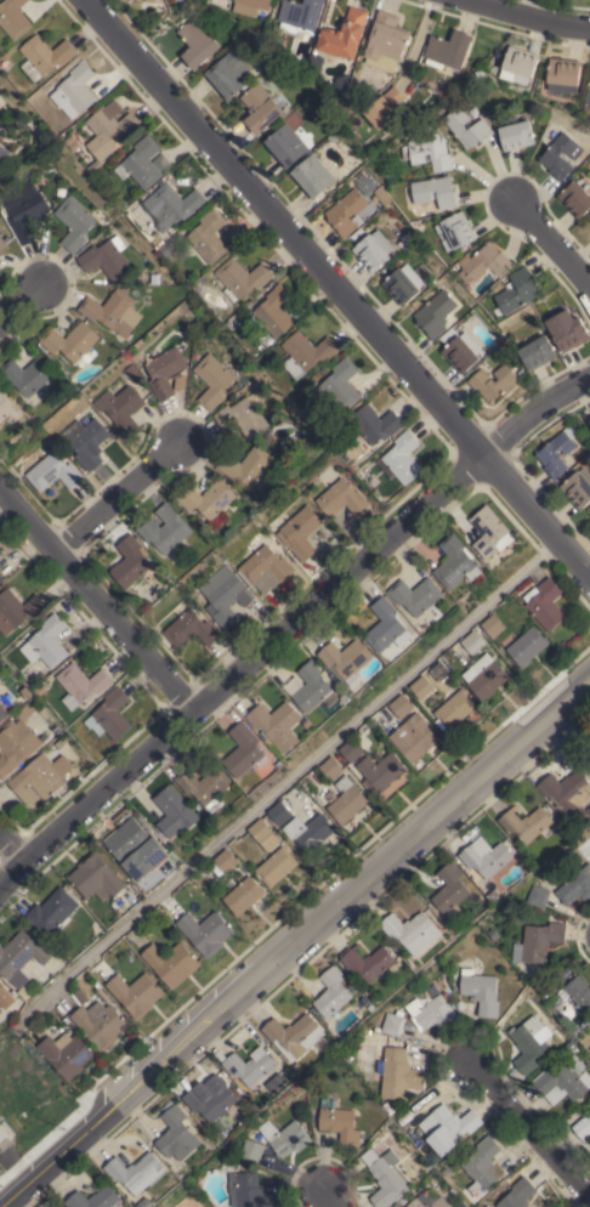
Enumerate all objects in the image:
building: (124, 0)
building: (147, 0)
building: (151, 1)
building: (254, 7)
building: (305, 17)
road: (526, 17)
building: (13, 18)
building: (346, 36)
building: (197, 42)
building: (388, 42)
building: (450, 51)
building: (44, 56)
building: (317, 63)
building: (521, 66)
building: (478, 73)
building: (228, 74)
building: (566, 76)
building: (344, 81)
building: (75, 90)
building: (589, 100)
building: (385, 106)
building: (260, 108)
building: (480, 126)
building: (109, 130)
building: (516, 135)
building: (333, 137)
building: (75, 144)
building: (285, 144)
building: (36, 146)
building: (427, 149)
building: (2, 153)
building: (365, 153)
building: (560, 155)
building: (144, 161)
building: (312, 176)
building: (365, 185)
building: (59, 192)
building: (435, 192)
building: (7, 198)
building: (575, 198)
building: (172, 205)
building: (346, 212)
building: (25, 215)
building: (589, 217)
building: (74, 222)
building: (456, 233)
building: (209, 236)
building: (158, 240)
building: (2, 243)
road: (551, 246)
building: (373, 249)
building: (106, 257)
building: (484, 262)
building: (0, 267)
building: (240, 277)
building: (135, 278)
building: (403, 283)
road: (336, 290)
building: (516, 291)
road: (18, 304)
building: (113, 311)
building: (274, 311)
building: (435, 313)
building: (567, 330)
building: (70, 340)
building: (461, 351)
building: (537, 352)
building: (306, 353)
building: (164, 370)
building: (27, 374)
building: (212, 379)
building: (493, 381)
building: (341, 384)
building: (5, 404)
building: (120, 408)
building: (243, 415)
building: (273, 415)
building: (589, 418)
building: (375, 424)
building: (86, 442)
building: (556, 450)
building: (401, 458)
building: (246, 465)
building: (353, 465)
building: (51, 467)
building: (578, 487)
building: (339, 495)
road: (117, 498)
building: (208, 498)
building: (165, 528)
building: (299, 528)
building: (490, 532)
building: (0, 551)
building: (130, 561)
building: (455, 561)
building: (265, 568)
building: (164, 572)
building: (0, 578)
building: (416, 595)
building: (227, 599)
road: (97, 601)
building: (545, 603)
building: (19, 607)
building: (386, 625)
building: (493, 625)
road: (290, 628)
building: (191, 629)
building: (46, 642)
building: (473, 642)
building: (527, 645)
building: (346, 658)
building: (484, 675)
building: (81, 684)
building: (421, 686)
building: (313, 687)
building: (40, 688)
building: (401, 705)
building: (455, 709)
building: (2, 713)
building: (109, 714)
building: (277, 724)
building: (414, 736)
building: (59, 742)
building: (16, 744)
building: (351, 749)
building: (244, 750)
building: (589, 763)
building: (330, 767)
building: (380, 771)
building: (40, 777)
road: (288, 782)
building: (205, 786)
building: (568, 794)
building: (347, 799)
building: (174, 811)
building: (142, 820)
building: (524, 822)
building: (301, 826)
building: (263, 834)
building: (137, 849)
road: (11, 851)
building: (486, 860)
building: (223, 861)
building: (277, 866)
building: (95, 877)
building: (573, 885)
building: (450, 890)
building: (244, 895)
building: (493, 895)
building: (538, 895)
building: (51, 912)
building: (509, 925)
building: (412, 930)
building: (206, 931)
building: (493, 934)
building: (538, 941)
road: (295, 945)
building: (19, 956)
building: (367, 962)
building: (171, 963)
building: (351, 984)
building: (480, 991)
building: (544, 991)
building: (331, 992)
building: (577, 992)
building: (135, 993)
building: (80, 996)
building: (5, 997)
building: (430, 1010)
building: (393, 1022)
building: (100, 1024)
building: (294, 1035)
building: (528, 1044)
building: (67, 1054)
building: (253, 1067)
building: (299, 1067)
building: (399, 1073)
building: (562, 1078)
building: (210, 1101)
building: (339, 1122)
building: (447, 1127)
building: (583, 1127)
building: (177, 1134)
building: (1, 1135)
road: (526, 1135)
building: (285, 1137)
building: (251, 1149)
building: (482, 1162)
building: (136, 1169)
building: (425, 1172)
building: (1, 1177)
building: (385, 1177)
building: (249, 1190)
building: (517, 1194)
building: (95, 1198)
road: (328, 1198)
building: (427, 1201)
building: (144, 1202)
building: (487, 1206)

